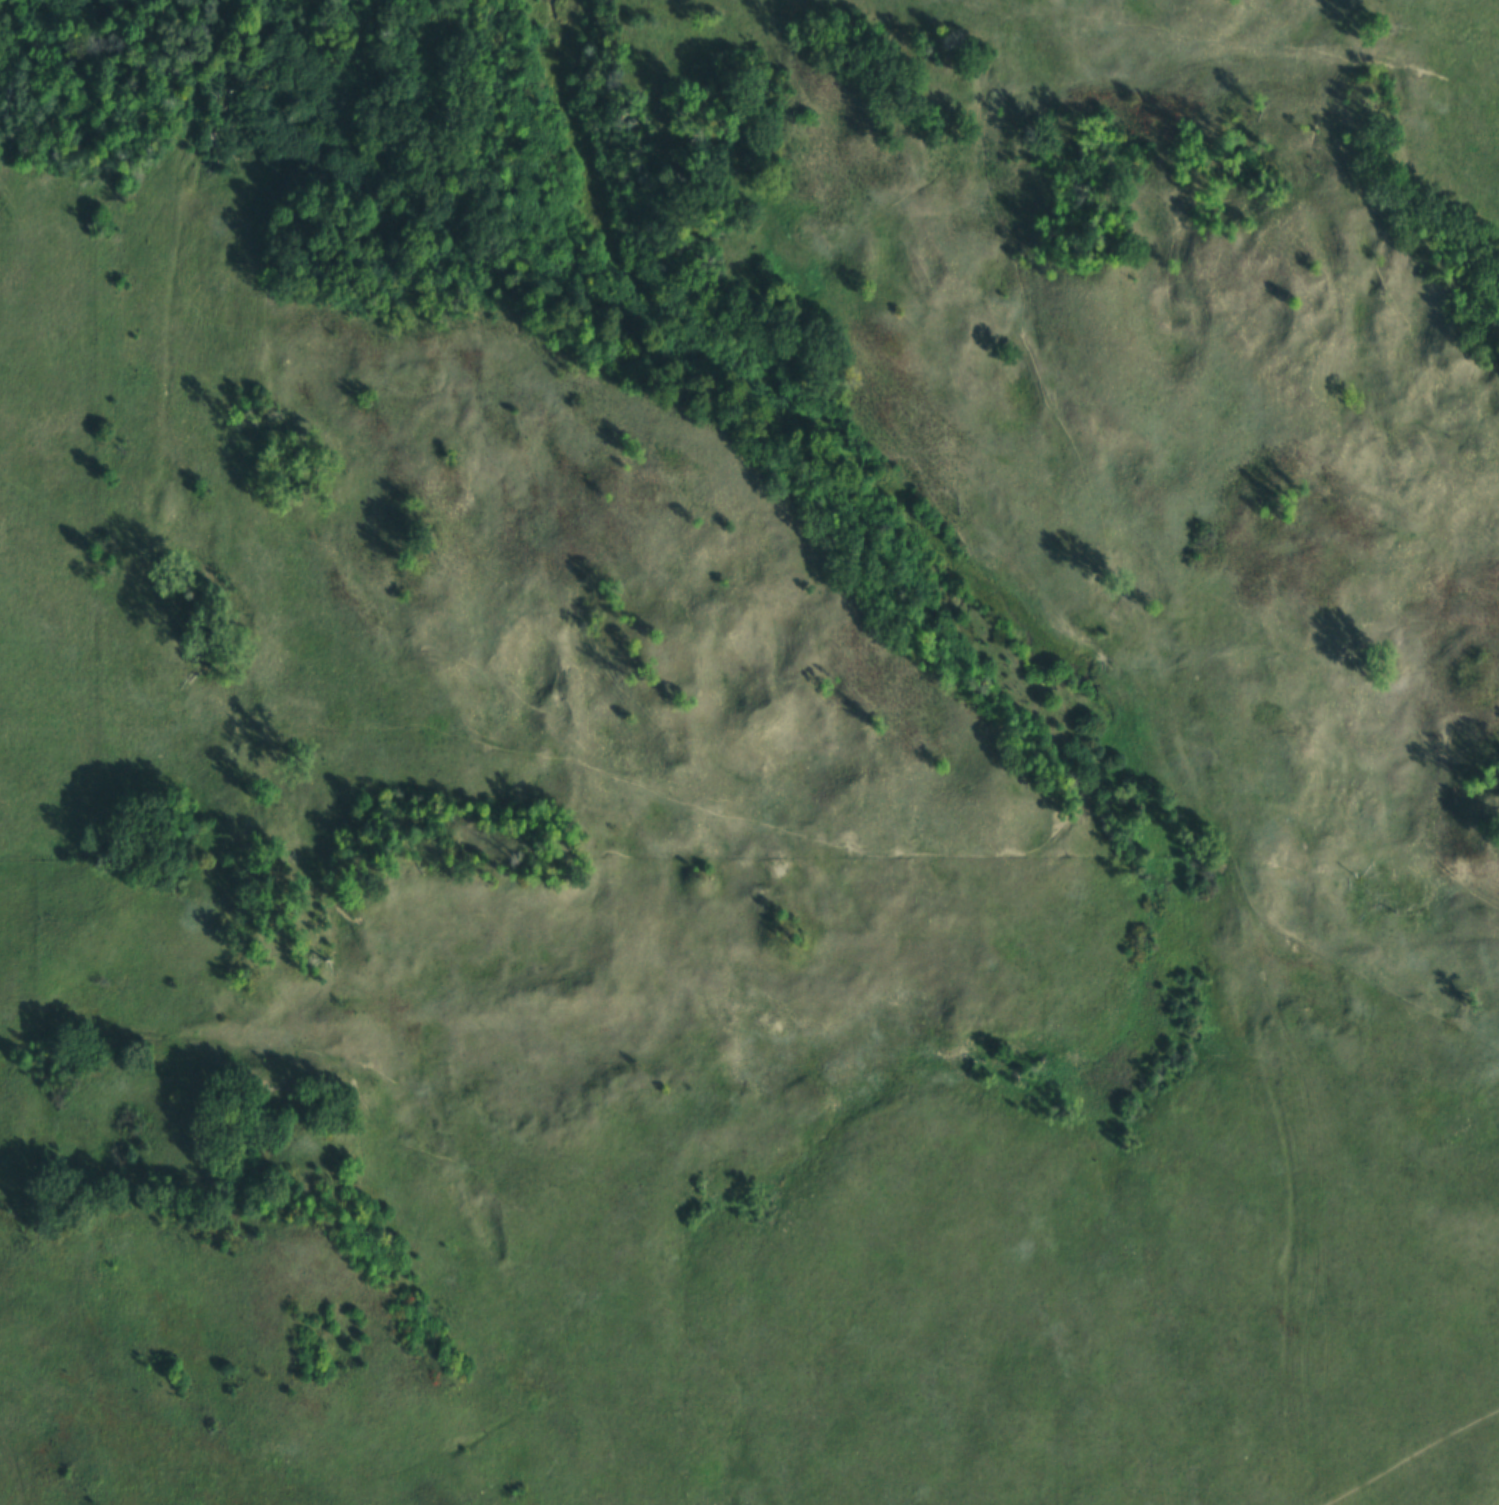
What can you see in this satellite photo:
road: (1412, 1455)

